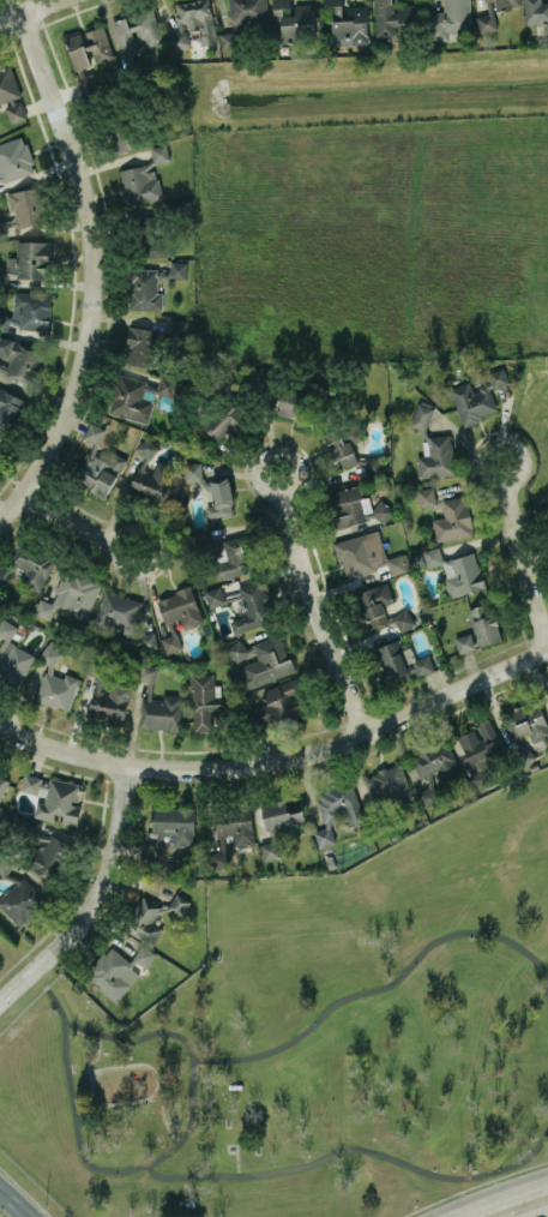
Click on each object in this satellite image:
building: (502, 4)
road: (25, 8)
building: (536, 11)
building: (242, 19)
building: (393, 19)
building: (459, 20)
building: (294, 22)
building: (193, 23)
building: (348, 23)
building: (137, 32)
building: (97, 43)
building: (77, 50)
building: (88, 84)
building: (11, 94)
building: (124, 134)
building: (159, 152)
building: (14, 158)
building: (139, 184)
building: (25, 206)
building: (1, 229)
building: (30, 259)
road: (96, 269)
building: (177, 269)
building: (145, 289)
building: (32, 310)
building: (4, 322)
building: (139, 346)
building: (20, 360)
building: (477, 396)
building: (295, 406)
building: (10, 409)
building: (421, 416)
building: (225, 420)
building: (146, 448)
building: (339, 449)
building: (1, 450)
building: (436, 457)
building: (98, 464)
building: (372, 464)
road: (492, 480)
building: (152, 482)
road: (267, 491)
building: (426, 496)
building: (219, 498)
building: (351, 505)
building: (383, 510)
building: (453, 518)
road: (71, 520)
road: (115, 556)
building: (355, 556)
building: (433, 556)
building: (236, 557)
building: (396, 563)
building: (29, 565)
road: (522, 565)
building: (463, 574)
building: (231, 592)
building: (71, 595)
building: (213, 596)
building: (375, 604)
building: (253, 606)
building: (118, 611)
building: (177, 615)
road: (317, 617)
building: (403, 619)
building: (480, 628)
building: (149, 640)
building: (12, 655)
building: (260, 660)
building: (392, 660)
building: (422, 665)
building: (55, 683)
building: (547, 693)
building: (206, 701)
building: (282, 701)
building: (110, 703)
building: (161, 712)
building: (526, 726)
road: (282, 760)
building: (436, 761)
building: (387, 784)
building: (2, 786)
building: (429, 791)
building: (54, 797)
building: (0, 808)
building: (337, 809)
building: (283, 813)
building: (175, 823)
building: (231, 826)
building: (269, 850)
building: (49, 856)
building: (219, 858)
building: (22, 901)
road: (96, 901)
building: (179, 903)
building: (145, 921)
building: (118, 970)
road: (387, 984)
road: (156, 1073)
road: (94, 1096)
road: (354, 1147)
road: (235, 1161)
road: (150, 1163)
road: (496, 1197)
road: (18, 1200)
road: (543, 1215)

